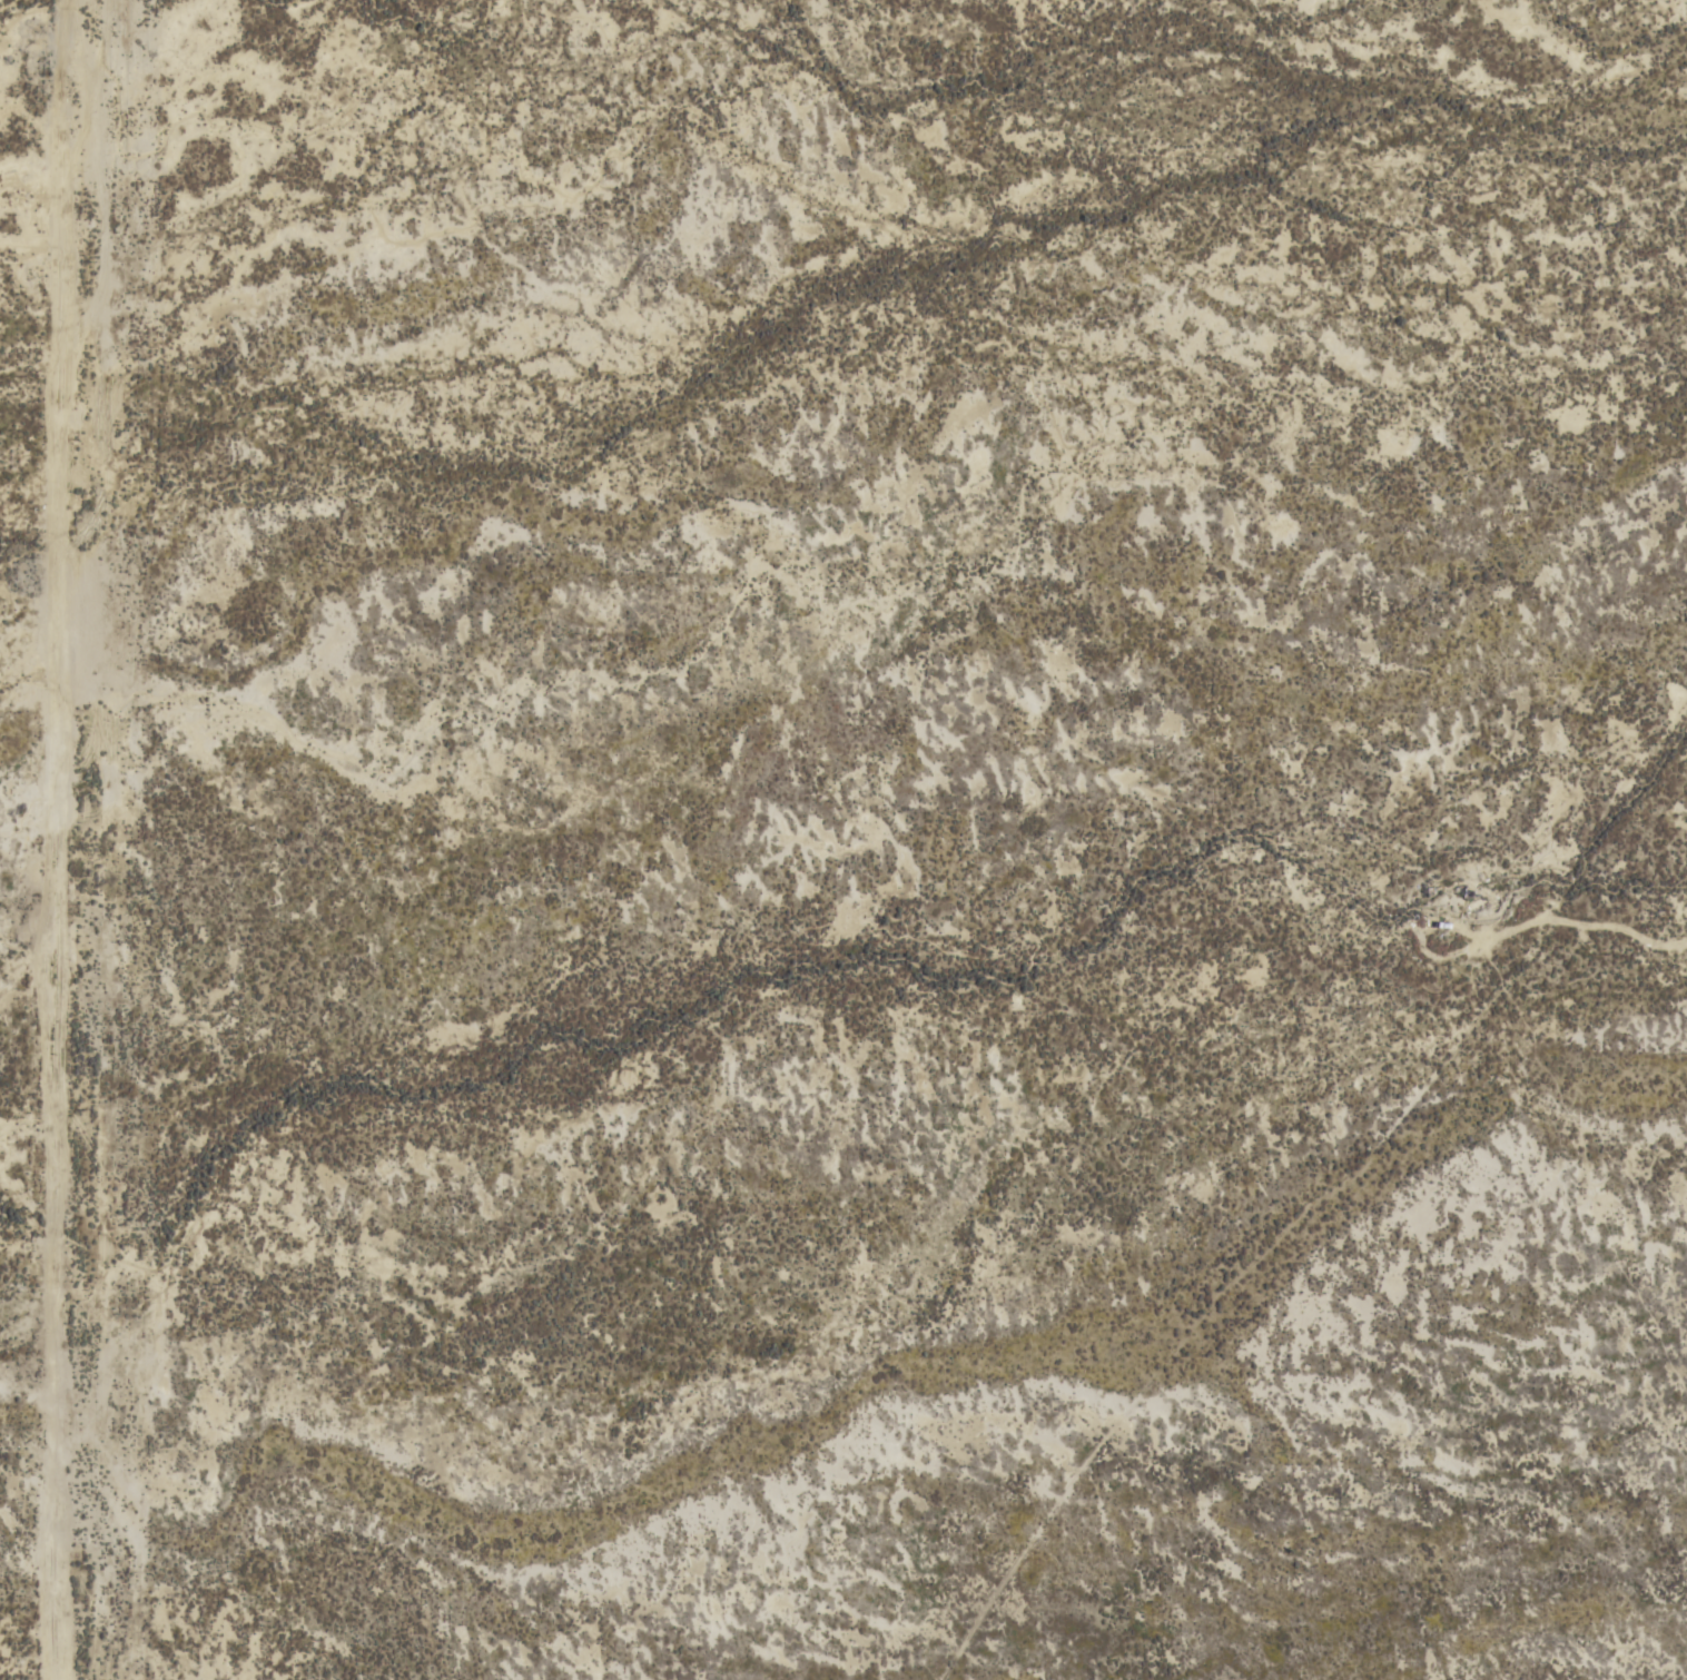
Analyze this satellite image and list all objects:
road: (46, 234)
road: (82, 839)

